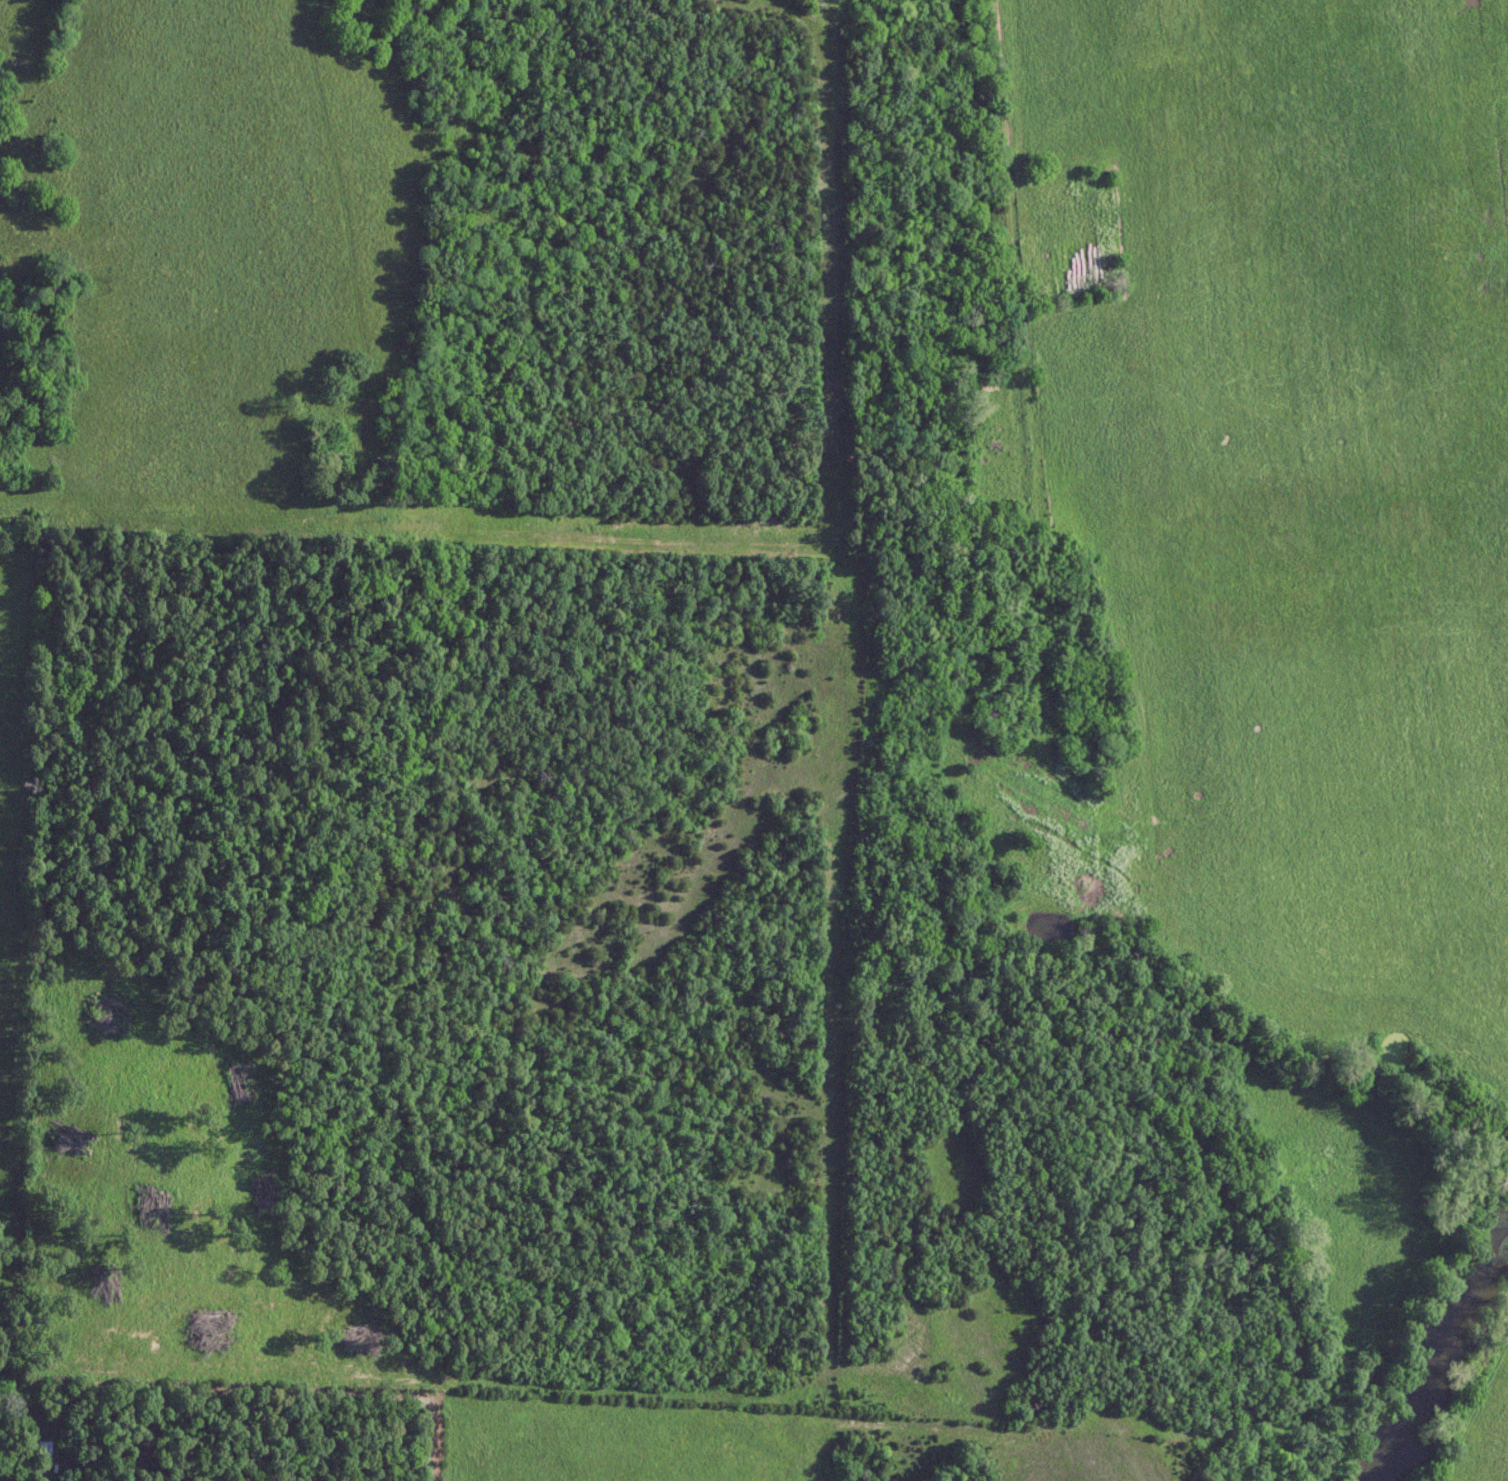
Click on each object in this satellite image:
road: (1015, 146)
river: (1424, 1343)
road: (54, 1460)
building: (46, 1463)

